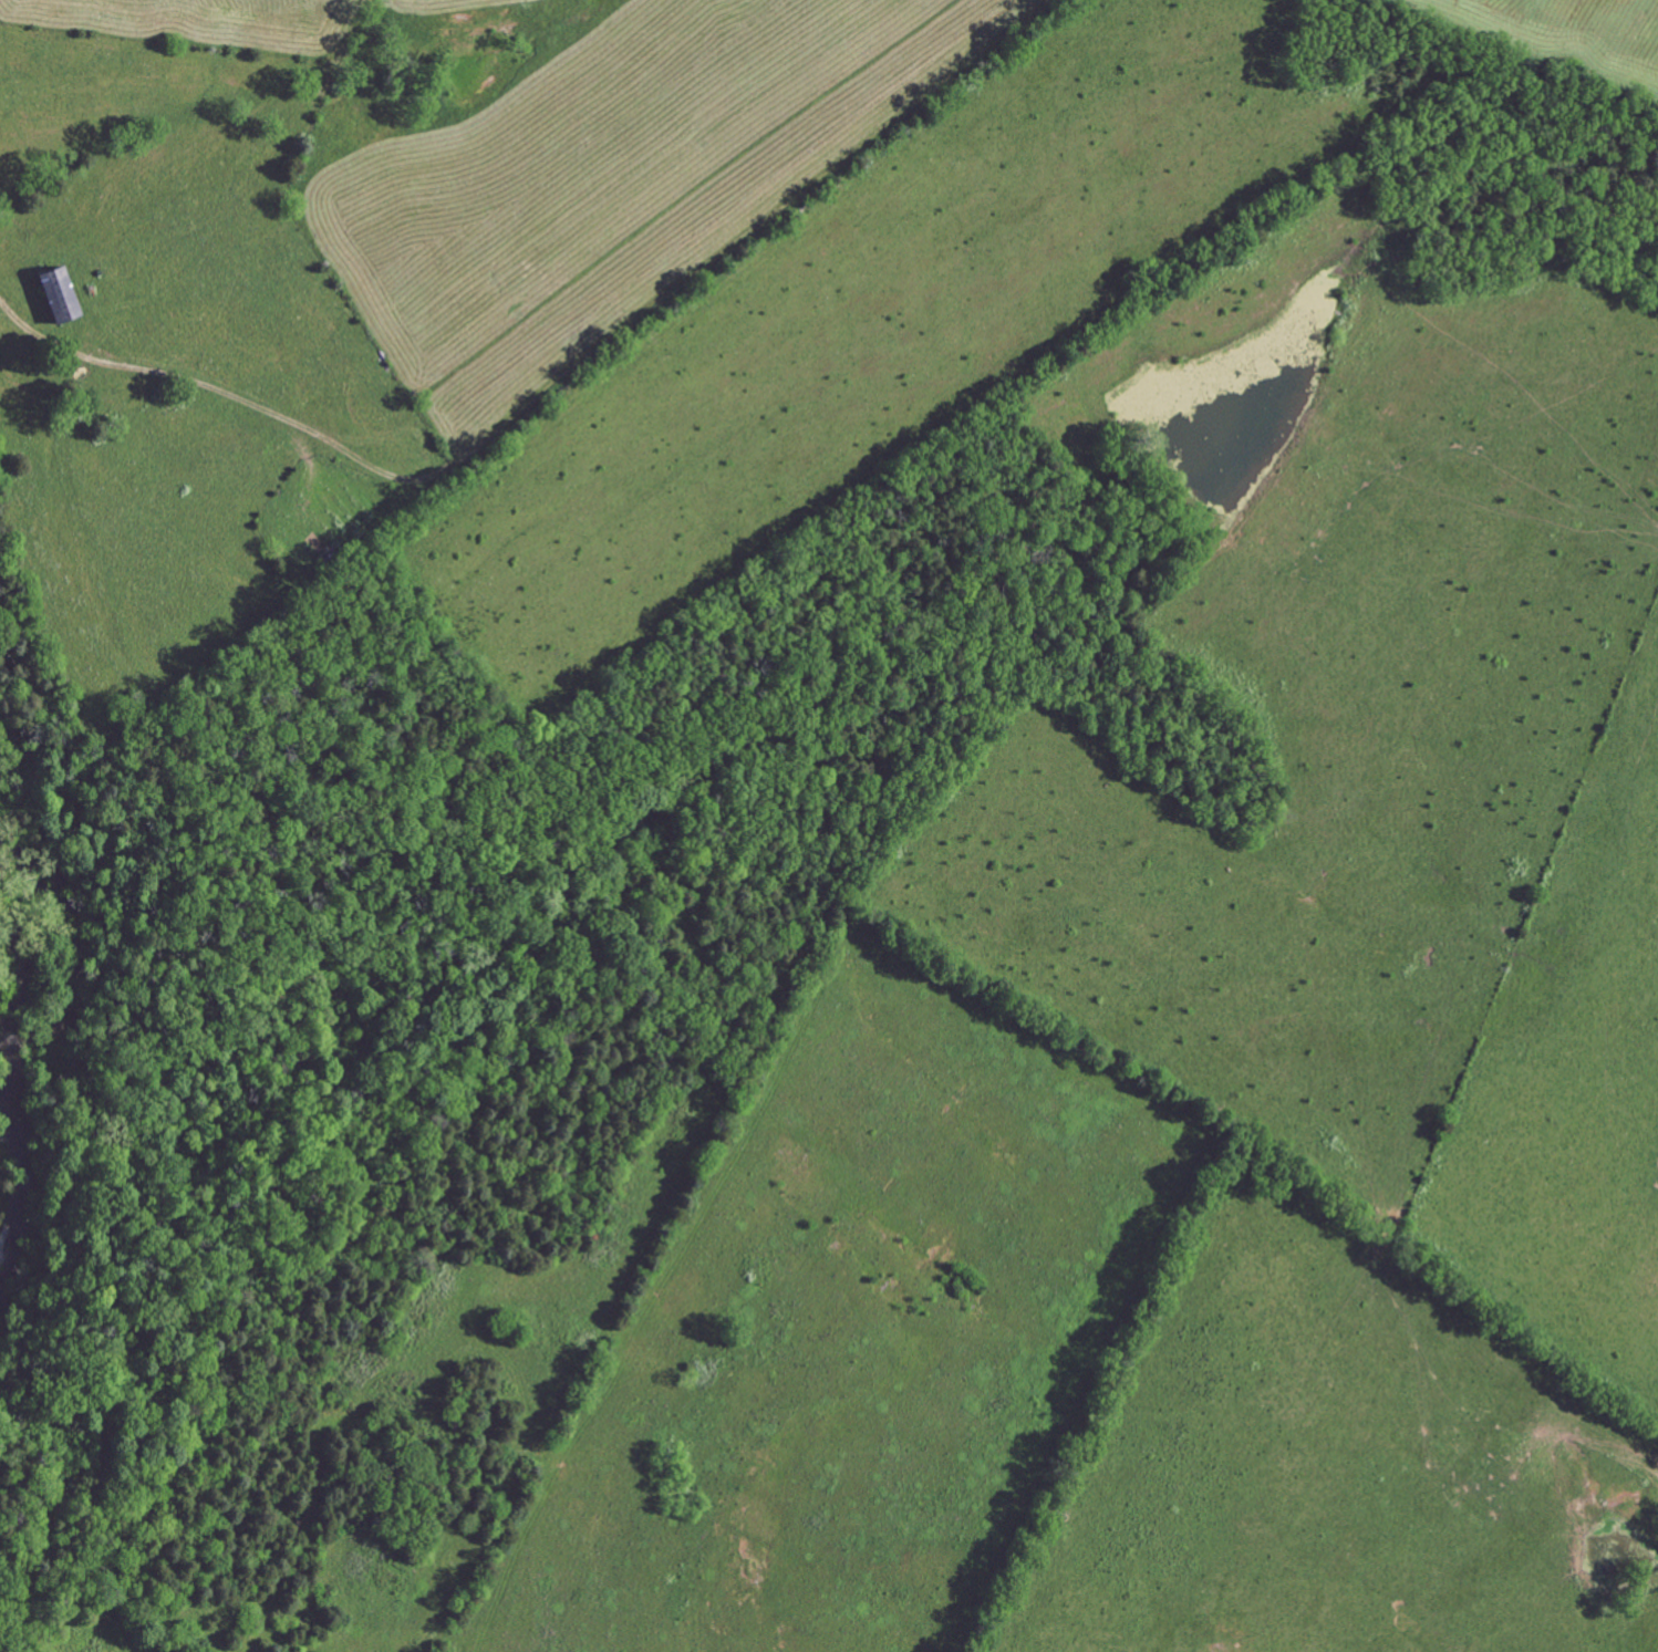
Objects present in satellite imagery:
building: (56, 294)
river: (13, 1088)

